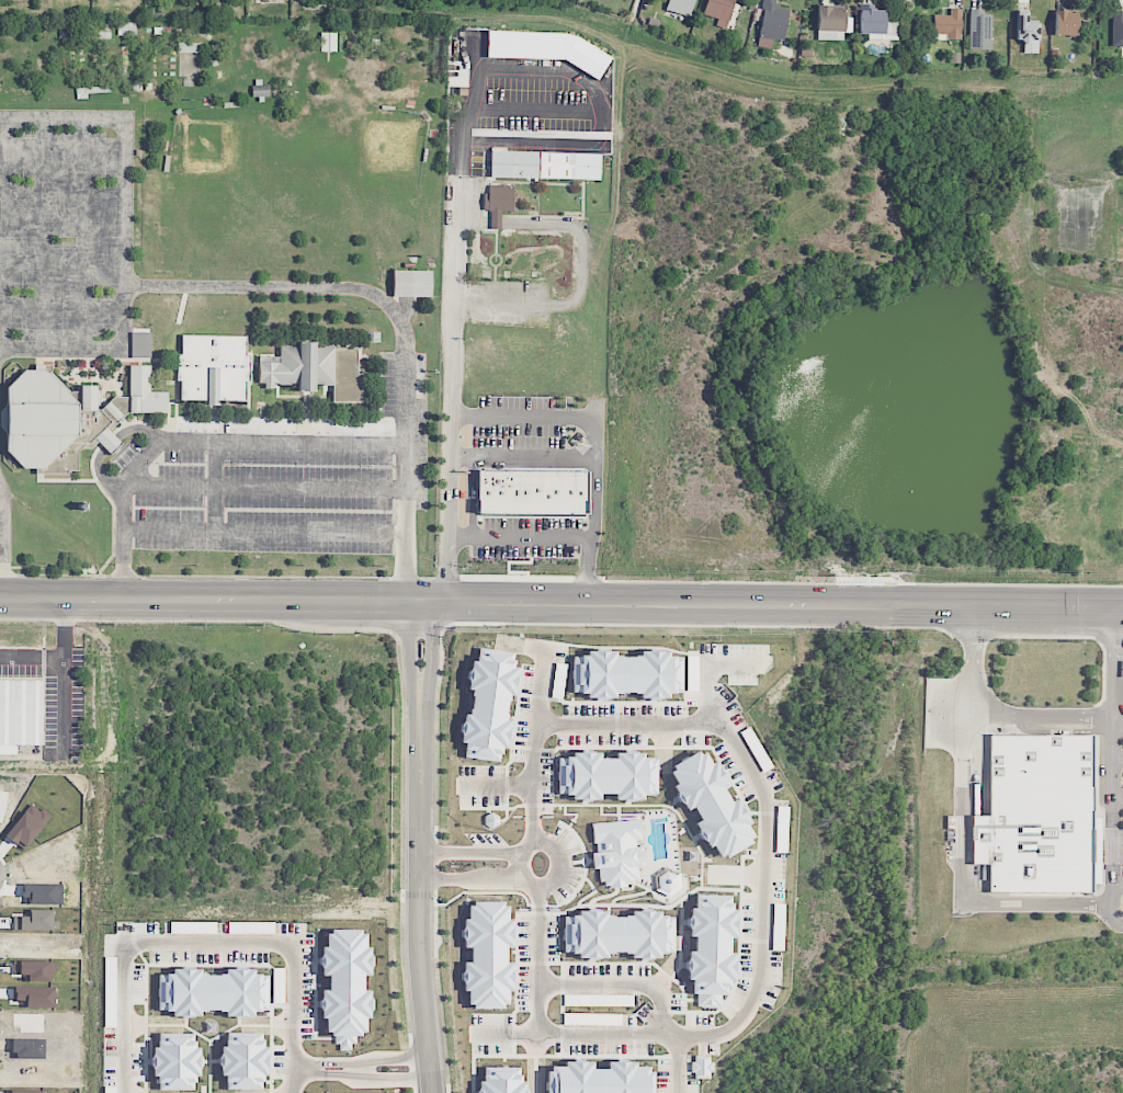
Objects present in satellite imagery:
building: (680, 7)
building: (719, 11)
building: (771, 23)
building: (829, 23)
building: (1065, 23)
building: (876, 24)
building: (948, 25)
building: (979, 30)
building: (1116, 30)
building: (1026, 33)
building: (328, 42)
building: (189, 59)
building: (260, 91)
road: (125, 119)
building: (544, 166)
building: (498, 202)
road: (458, 218)
parking lot: (67, 232)
road: (44, 234)
road: (84, 235)
building: (411, 284)
road: (500, 304)
road: (398, 317)
road: (2, 352)
building: (214, 368)
building: (314, 372)
road: (522, 413)
building: (67, 417)
road: (196, 440)
road: (109, 444)
road: (522, 458)
parking lot: (286, 478)
road: (215, 486)
road: (265, 486)
building: (531, 491)
road: (3, 505)
road: (264, 532)
road: (520, 537)
road: (3, 562)
road: (560, 602)
road: (60, 656)
road: (412, 657)
road: (434, 657)
road: (1115, 667)
building: (626, 674)
road: (707, 675)
road: (544, 692)
building: (488, 705)
building: (21, 711)
road: (989, 713)
road: (1119, 727)
road: (755, 773)
building: (606, 776)
road: (500, 786)
building: (711, 805)
building: (1036, 815)
road: (1114, 828)
road: (556, 850)
building: (617, 852)
road: (469, 854)
road: (472, 876)
road: (963, 877)
road: (421, 902)
building: (617, 934)
road: (196, 941)
building: (711, 949)
building: (487, 955)
building: (345, 986)
road: (580, 988)
road: (533, 1032)
road: (599, 1035)
building: (177, 1060)
building: (245, 1062)
building: (701, 1066)
road: (358, 1069)
road: (315, 1070)
building: (599, 1079)
building: (500, 1081)

